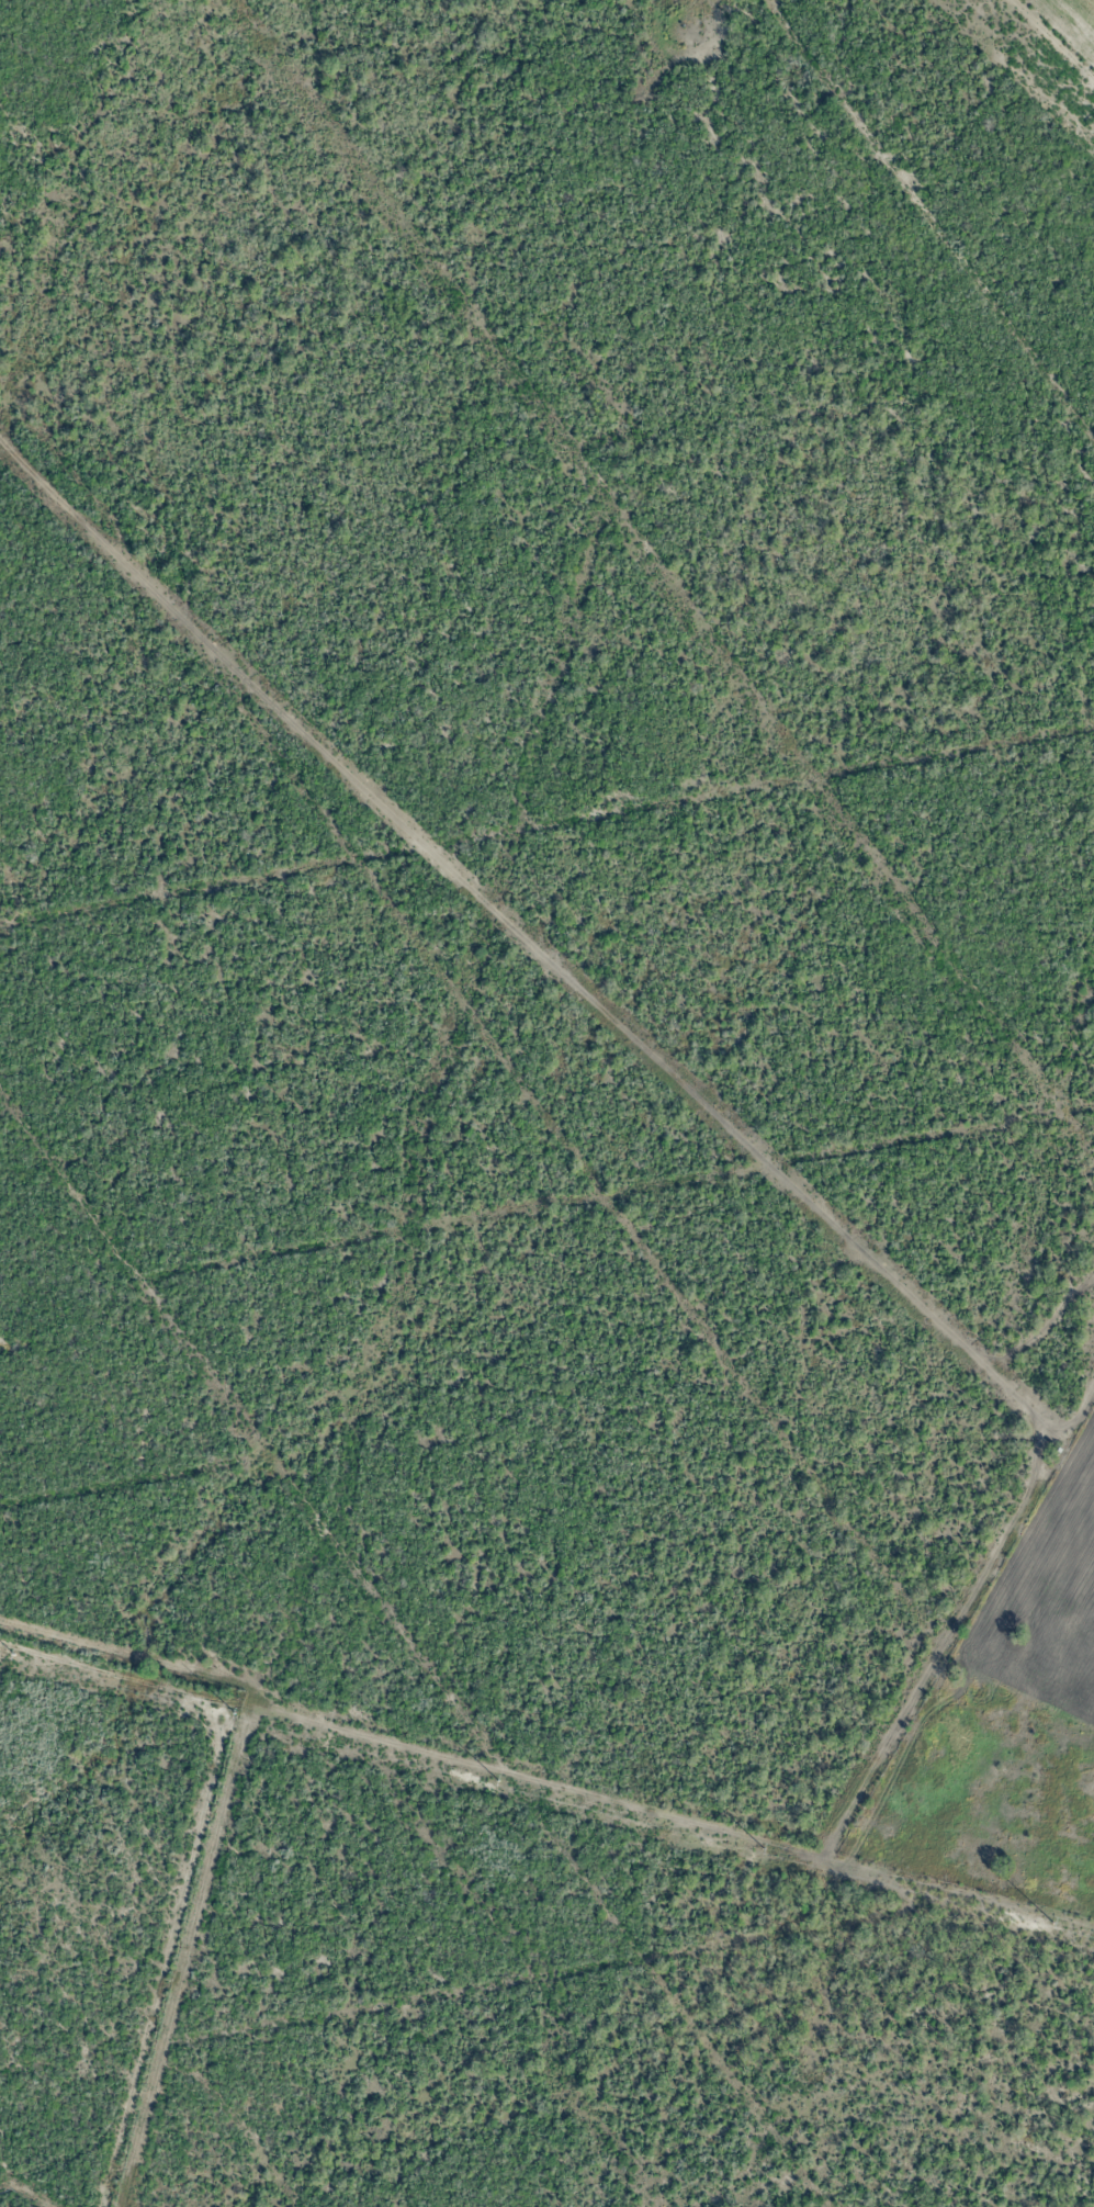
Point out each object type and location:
power tower: (10, 1652)
power tower: (235, 1714)
power tower: (496, 1779)
power tower: (762, 1848)
power tower: (1053, 1923)

